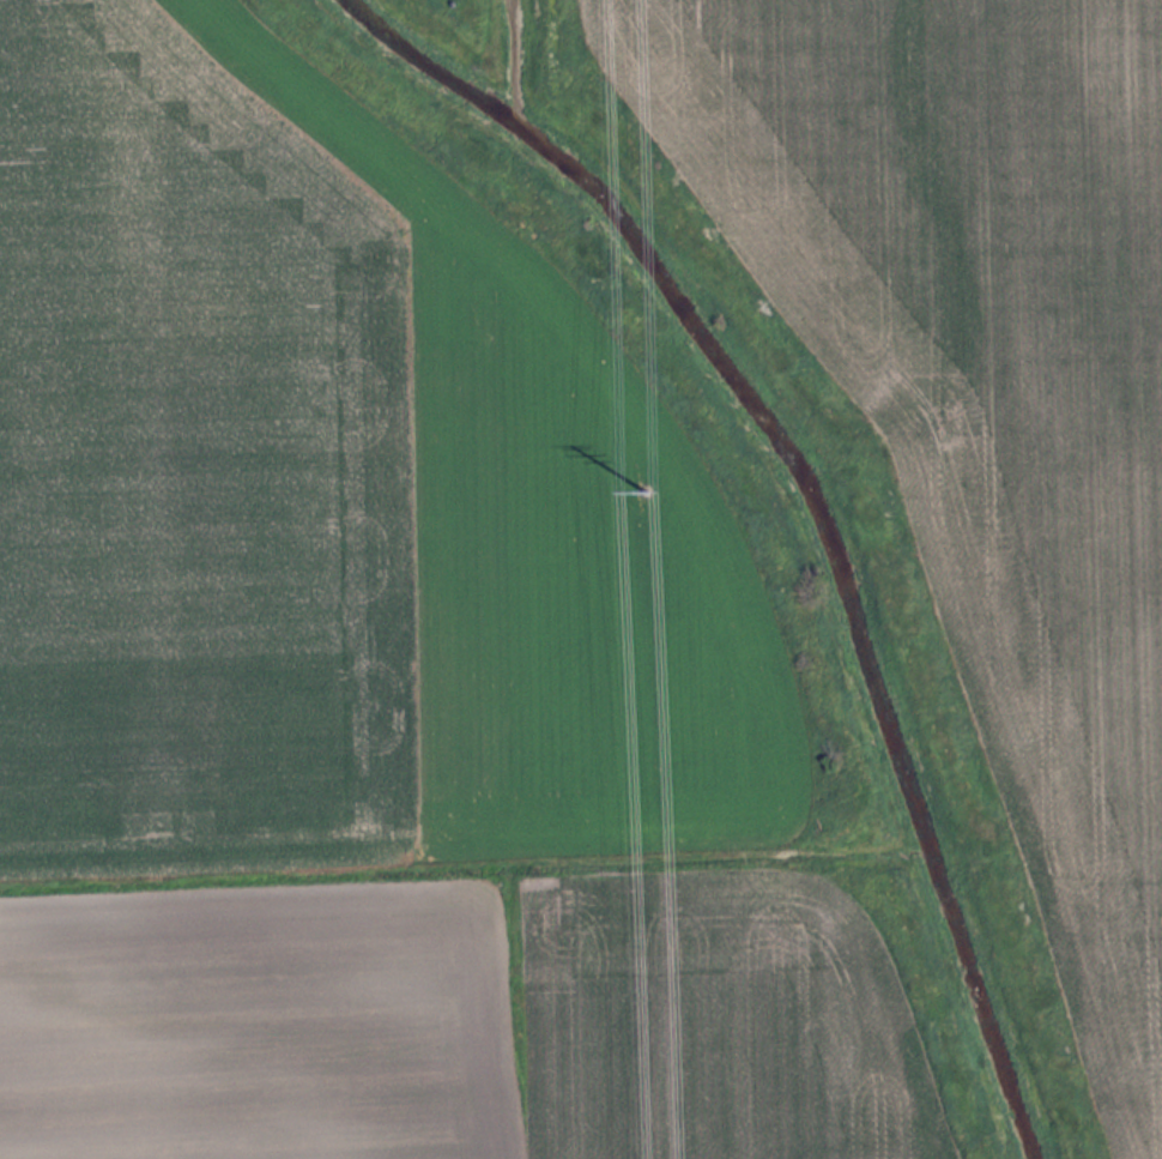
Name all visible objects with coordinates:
power tower: (642, 483)

